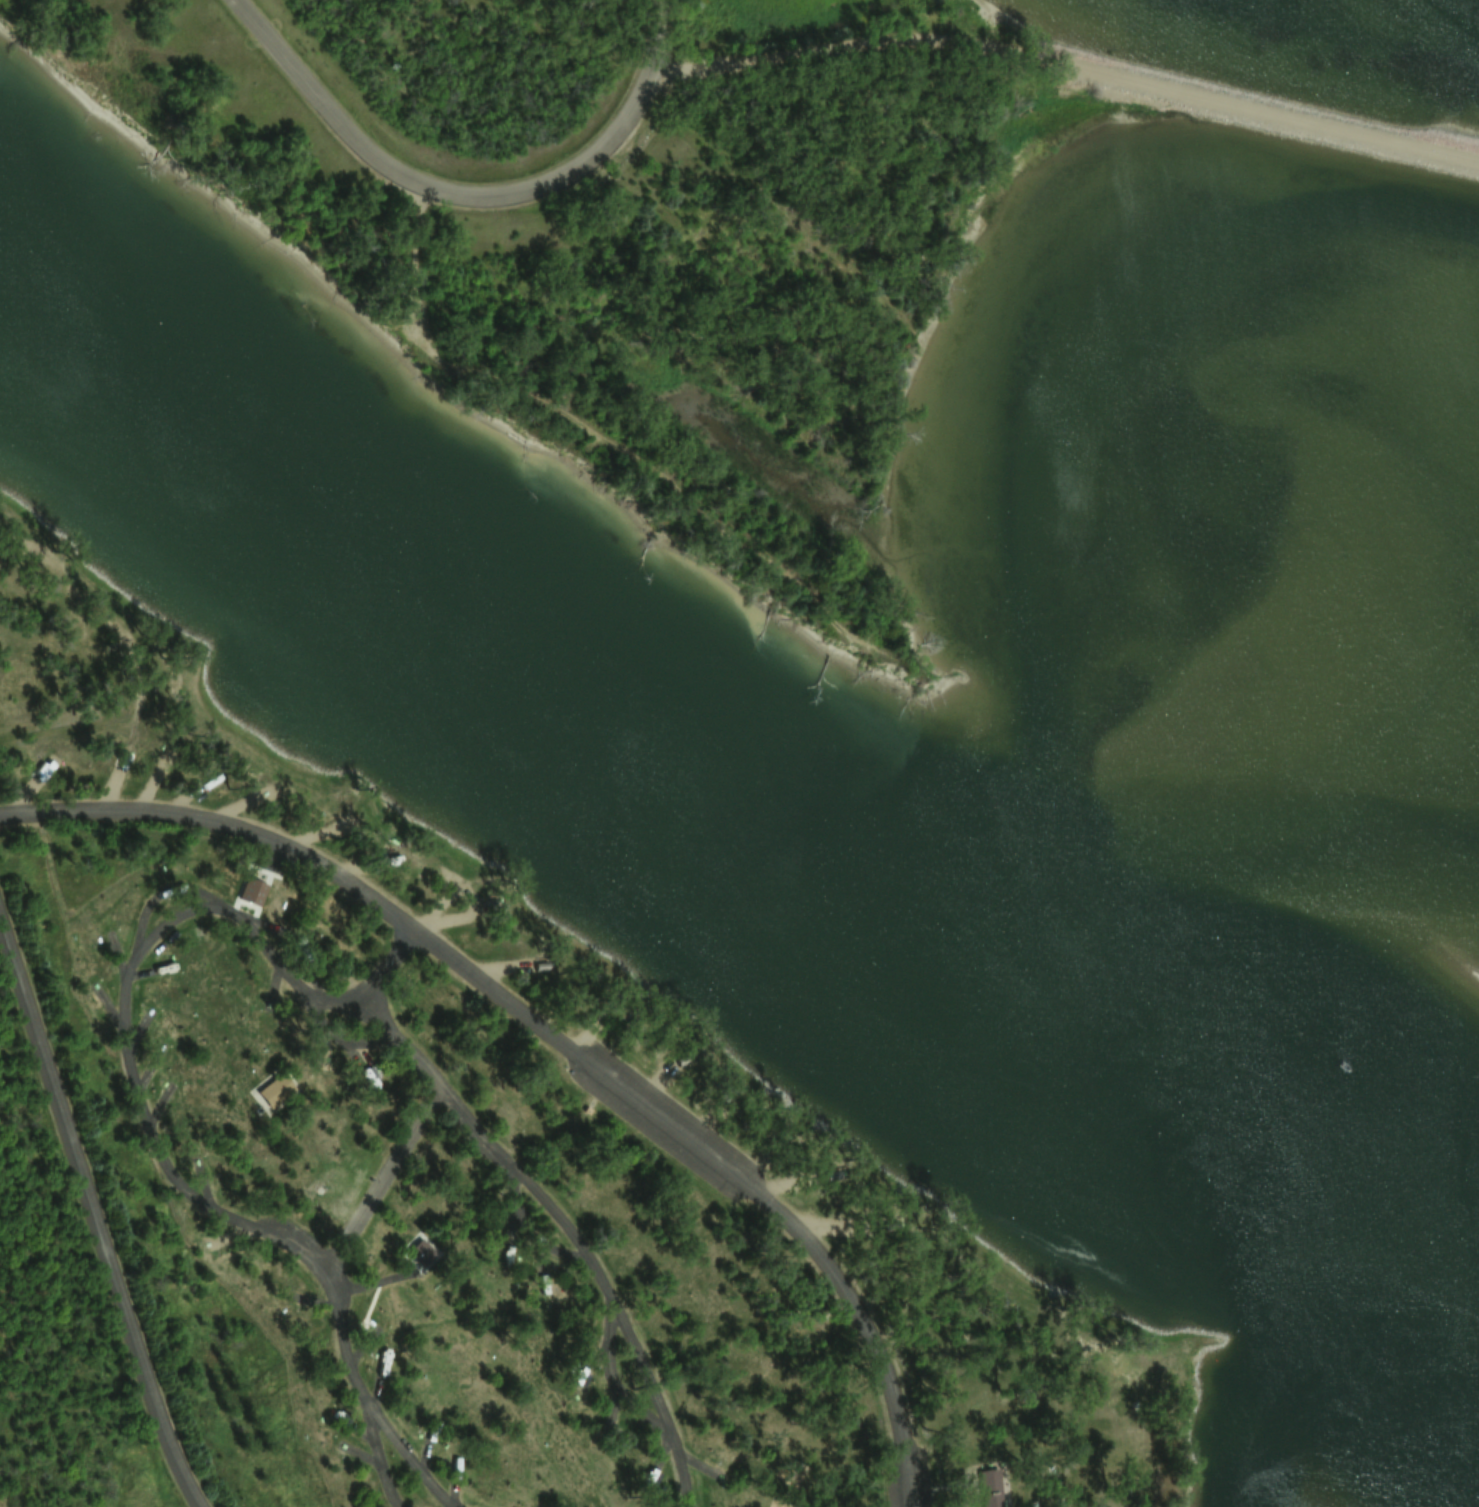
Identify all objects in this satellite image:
road: (1070, 63)
road: (469, 194)
road: (230, 914)
road: (389, 966)
road: (551, 1034)
building: (272, 1090)
road: (379, 1178)
road: (96, 1208)
building: (416, 1251)
building: (987, 1488)

